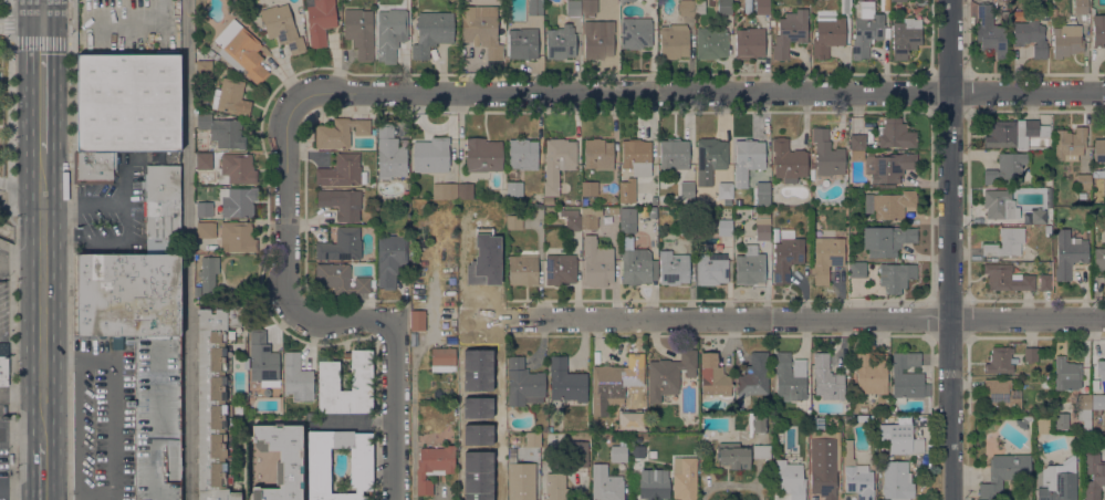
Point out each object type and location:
building: (898, 0)
building: (1005, 0)
road: (11, 2)
building: (622, 2)
building: (884, 4)
building: (686, 7)
building: (724, 7)
building: (762, 7)
building: (845, 7)
building: (1081, 7)
building: (534, 8)
building: (573, 8)
building: (588, 8)
building: (826, 13)
building: (1003, 18)
building: (321, 20)
road: (13, 22)
road: (137, 24)
building: (282, 28)
building: (866, 29)
building: (482, 30)
building: (1098, 30)
building: (359, 32)
building: (431, 32)
building: (636, 32)
building: (790, 32)
building: (990, 32)
building: (389, 33)
building: (827, 35)
building: (905, 37)
building: (1030, 37)
road: (967, 38)
building: (597, 39)
road: (22, 41)
building: (674, 41)
building: (1066, 41)
building: (522, 43)
building: (560, 43)
building: (711, 43)
building: (749, 43)
building: (241, 51)
building: (210, 53)
building: (215, 56)
building: (204, 64)
road: (697, 92)
road: (967, 92)
building: (229, 96)
building: (127, 102)
building: (222, 131)
building: (340, 133)
building: (1014, 133)
building: (895, 134)
building: (857, 142)
building: (1070, 144)
building: (1099, 150)
building: (389, 154)
building: (522, 154)
building: (597, 154)
building: (826, 154)
building: (430, 155)
building: (482, 155)
building: (675, 155)
building: (636, 156)
building: (710, 159)
building: (748, 159)
building: (204, 160)
building: (557, 162)
building: (788, 162)
building: (94, 167)
building: (890, 167)
building: (1005, 168)
building: (237, 169)
building: (342, 171)
building: (812, 174)
building: (1101, 174)
building: (1083, 181)
building: (1047, 183)
building: (663, 185)
building: (513, 188)
building: (588, 188)
road: (8, 189)
building: (444, 190)
building: (627, 190)
building: (687, 190)
building: (724, 190)
building: (762, 190)
building: (465, 191)
building: (549, 200)
building: (237, 201)
building: (654, 201)
road: (110, 202)
building: (341, 202)
building: (888, 204)
road: (967, 205)
building: (1000, 205)
building: (161, 206)
road: (286, 207)
building: (204, 209)
building: (651, 212)
building: (1041, 217)
building: (573, 219)
road: (29, 220)
building: (627, 220)
building: (588, 221)
building: (513, 222)
building: (724, 227)
building: (684, 228)
building: (206, 229)
building: (762, 229)
building: (1046, 229)
building: (237, 237)
building: (886, 240)
building: (1005, 243)
road: (7, 244)
building: (341, 246)
road: (70, 249)
railway: (41, 250)
road: (56, 250)
road: (187, 250)
road: (949, 250)
building: (1068, 253)
building: (786, 256)
building: (389, 259)
building: (826, 259)
building: (1098, 259)
road: (14, 262)
building: (596, 262)
building: (634, 263)
building: (523, 268)
building: (674, 268)
building: (749, 268)
building: (560, 269)
road: (13, 270)
building: (711, 270)
building: (857, 270)
building: (207, 275)
building: (896, 277)
building: (1007, 278)
building: (340, 279)
building: (1044, 282)
road: (721, 317)
road: (967, 317)
road: (1035, 317)
building: (416, 319)
road: (337, 320)
building: (142, 353)
building: (1030, 354)
building: (442, 356)
road: (43, 358)
building: (262, 360)
building: (1000, 361)
building: (3, 364)
building: (246, 364)
building: (871, 372)
building: (1101, 373)
building: (669, 374)
building: (1066, 374)
building: (361, 376)
building: (713, 376)
building: (754, 376)
building: (790, 376)
building: (907, 376)
building: (298, 377)
building: (826, 378)
building: (565, 382)
building: (613, 383)
building: (1046, 383)
building: (523, 384)
building: (1002, 393)
road: (14, 397)
road: (113, 399)
building: (212, 399)
building: (1097, 404)
road: (394, 410)
building: (1084, 413)
road: (967, 417)
building: (872, 418)
building: (1060, 420)
building: (1023, 421)
building: (758, 423)
building: (816, 423)
building: (477, 424)
building: (1044, 426)
road: (14, 428)
building: (680, 435)
building: (904, 437)
building: (532, 440)
building: (702, 444)
building: (637, 451)
building: (618, 454)
building: (740, 454)
building: (576, 455)
building: (280, 460)
building: (432, 466)
building: (361, 467)
building: (823, 467)
road: (30, 471)
building: (1004, 472)
building: (856, 475)
building: (1093, 476)
building: (682, 478)
building: (790, 478)
building: (520, 481)
building: (896, 481)
building: (1059, 481)
building: (605, 483)
building: (654, 483)
building: (555, 487)
road: (14, 488)

